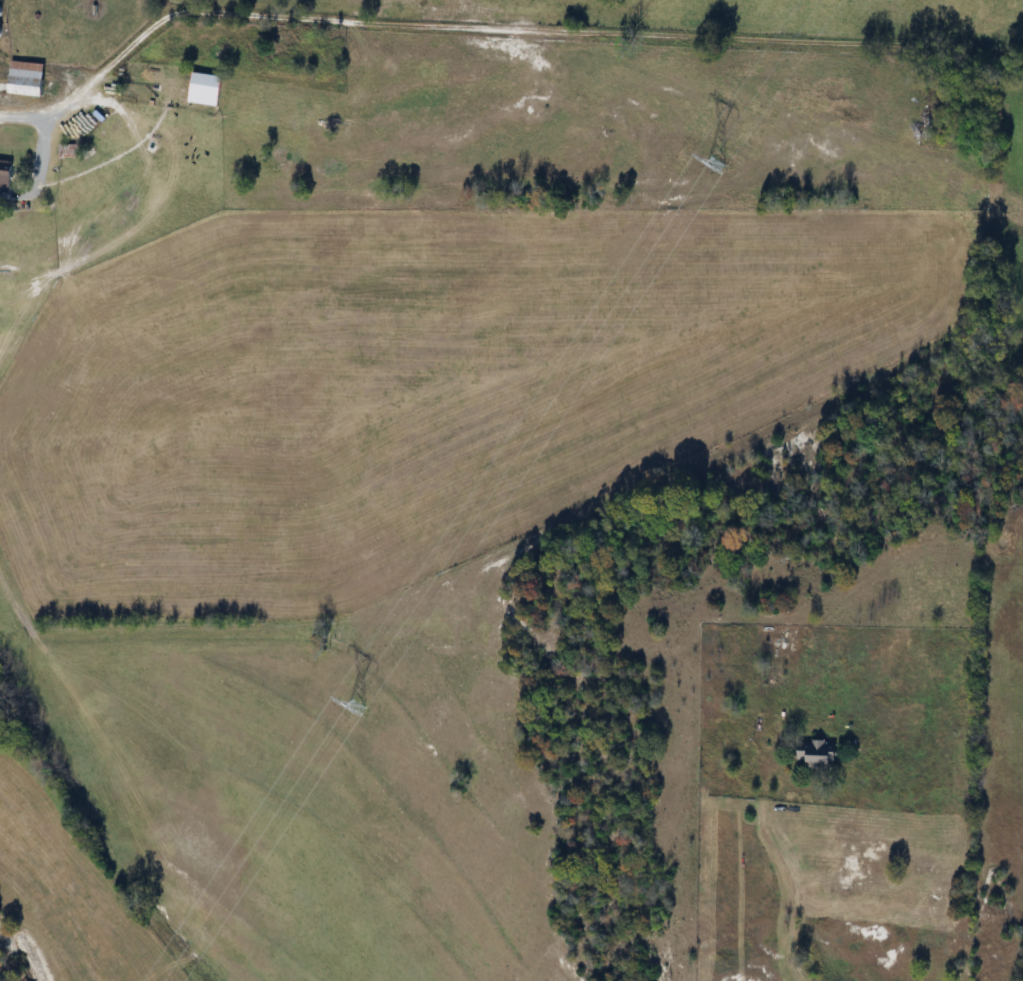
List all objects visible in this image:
road: (493, 25)
building: (28, 80)
building: (207, 90)
building: (71, 152)
power tower: (719, 164)
building: (6, 174)
building: (774, 678)
power tower: (356, 707)
building: (819, 756)
road: (793, 876)

